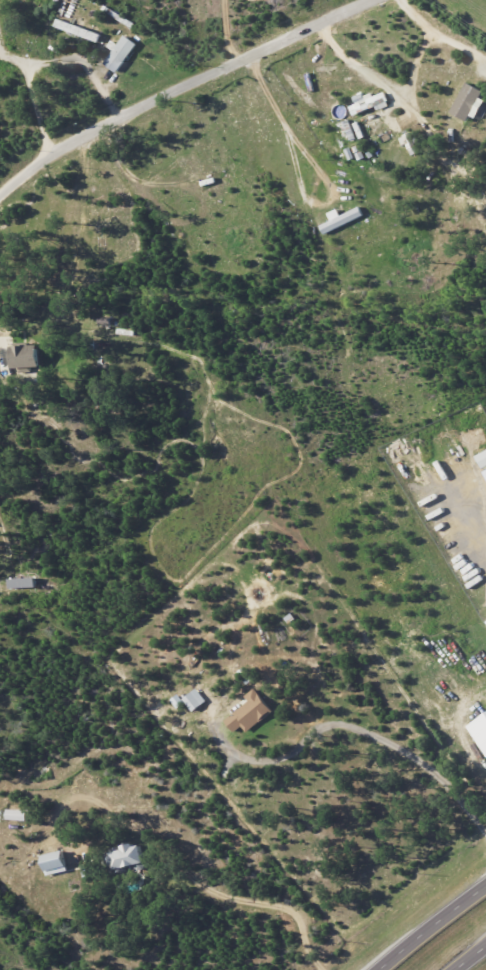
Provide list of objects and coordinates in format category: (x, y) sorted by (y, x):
road: (228, 31)
road: (431, 43)
building: (120, 53)
road: (63, 59)
road: (414, 71)
road: (371, 75)
road: (177, 87)
building: (370, 102)
building: (468, 102)
road: (38, 109)
road: (319, 167)
building: (342, 219)
road: (11, 325)
building: (23, 356)
building: (482, 459)
building: (485, 470)
building: (21, 583)
building: (195, 700)
building: (178, 701)
building: (250, 713)
road: (345, 725)
building: (479, 731)
building: (16, 815)
building: (126, 856)
building: (54, 863)
road: (233, 899)
road: (432, 927)
road: (470, 958)

